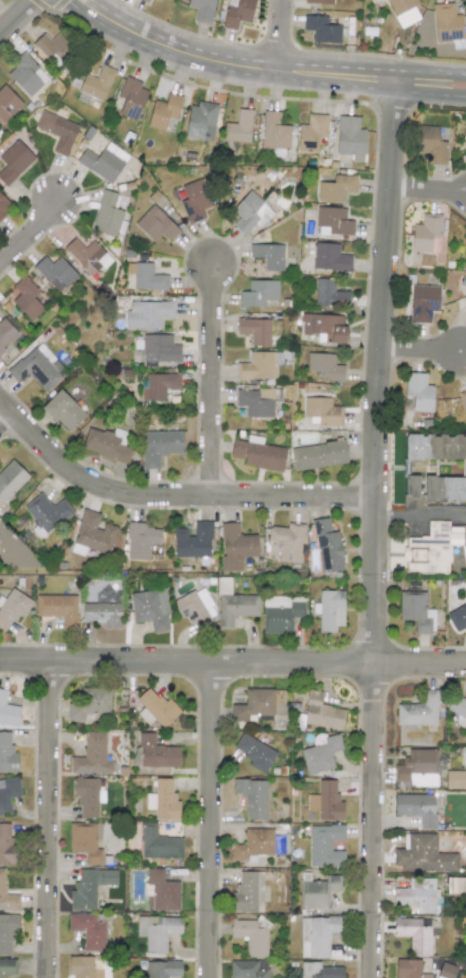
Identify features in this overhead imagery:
building: (160, 0)
building: (145, 1)
building: (319, 1)
building: (203, 10)
building: (403, 11)
building: (237, 12)
road: (18, 18)
building: (448, 24)
building: (322, 29)
road: (276, 35)
building: (52, 48)
road: (172, 50)
road: (370, 69)
building: (26, 75)
building: (97, 83)
road: (368, 89)
building: (131, 98)
building: (7, 103)
building: (163, 111)
building: (199, 119)
building: (238, 127)
building: (57, 131)
building: (274, 131)
building: (311, 132)
building: (350, 137)
building: (432, 145)
building: (14, 161)
building: (103, 161)
building: (336, 188)
road: (426, 191)
building: (194, 200)
building: (4, 206)
building: (107, 213)
building: (250, 213)
building: (333, 221)
building: (156, 224)
road: (31, 234)
building: (426, 234)
building: (87, 255)
building: (268, 255)
building: (330, 257)
building: (55, 272)
building: (148, 277)
building: (259, 293)
building: (329, 293)
building: (26, 297)
building: (465, 299)
building: (465, 300)
building: (423, 302)
building: (147, 314)
building: (323, 327)
building: (254, 329)
building: (6, 333)
building: (158, 349)
road: (418, 352)
building: (256, 366)
building: (325, 366)
building: (37, 367)
road: (212, 381)
building: (159, 385)
building: (418, 391)
building: (255, 402)
building: (463, 402)
building: (63, 410)
building: (322, 412)
road: (5, 418)
building: (159, 446)
building: (435, 447)
building: (258, 453)
building: (318, 454)
building: (10, 479)
building: (411, 486)
building: (445, 489)
road: (169, 496)
building: (46, 512)
road: (420, 515)
road: (373, 523)
building: (92, 535)
building: (141, 540)
building: (193, 541)
building: (287, 541)
building: (236, 546)
building: (328, 546)
building: (431, 549)
building: (234, 605)
building: (12, 608)
building: (58, 608)
building: (150, 608)
building: (196, 608)
building: (330, 610)
building: (416, 611)
building: (279, 613)
building: (102, 614)
building: (458, 617)
road: (233, 662)
building: (89, 704)
building: (254, 704)
building: (156, 708)
building: (8, 710)
building: (419, 710)
building: (458, 710)
building: (322, 712)
building: (156, 752)
building: (254, 752)
building: (7, 754)
building: (320, 754)
building: (92, 755)
building: (417, 768)
building: (455, 779)
building: (8, 793)
building: (87, 796)
building: (252, 797)
building: (165, 800)
building: (326, 801)
building: (416, 807)
road: (48, 819)
road: (208, 820)
building: (84, 842)
building: (159, 844)
building: (254, 844)
building: (6, 845)
building: (325, 845)
building: (426, 854)
building: (90, 887)
building: (316, 889)
building: (162, 891)
building: (248, 892)
building: (7, 895)
building: (417, 895)
building: (432, 927)
building: (88, 930)
building: (7, 931)
building: (157, 931)
building: (318, 934)
building: (251, 935)
building: (414, 935)
building: (7, 967)
building: (82, 967)
building: (163, 968)
building: (248, 968)
building: (409, 969)
building: (327, 972)

